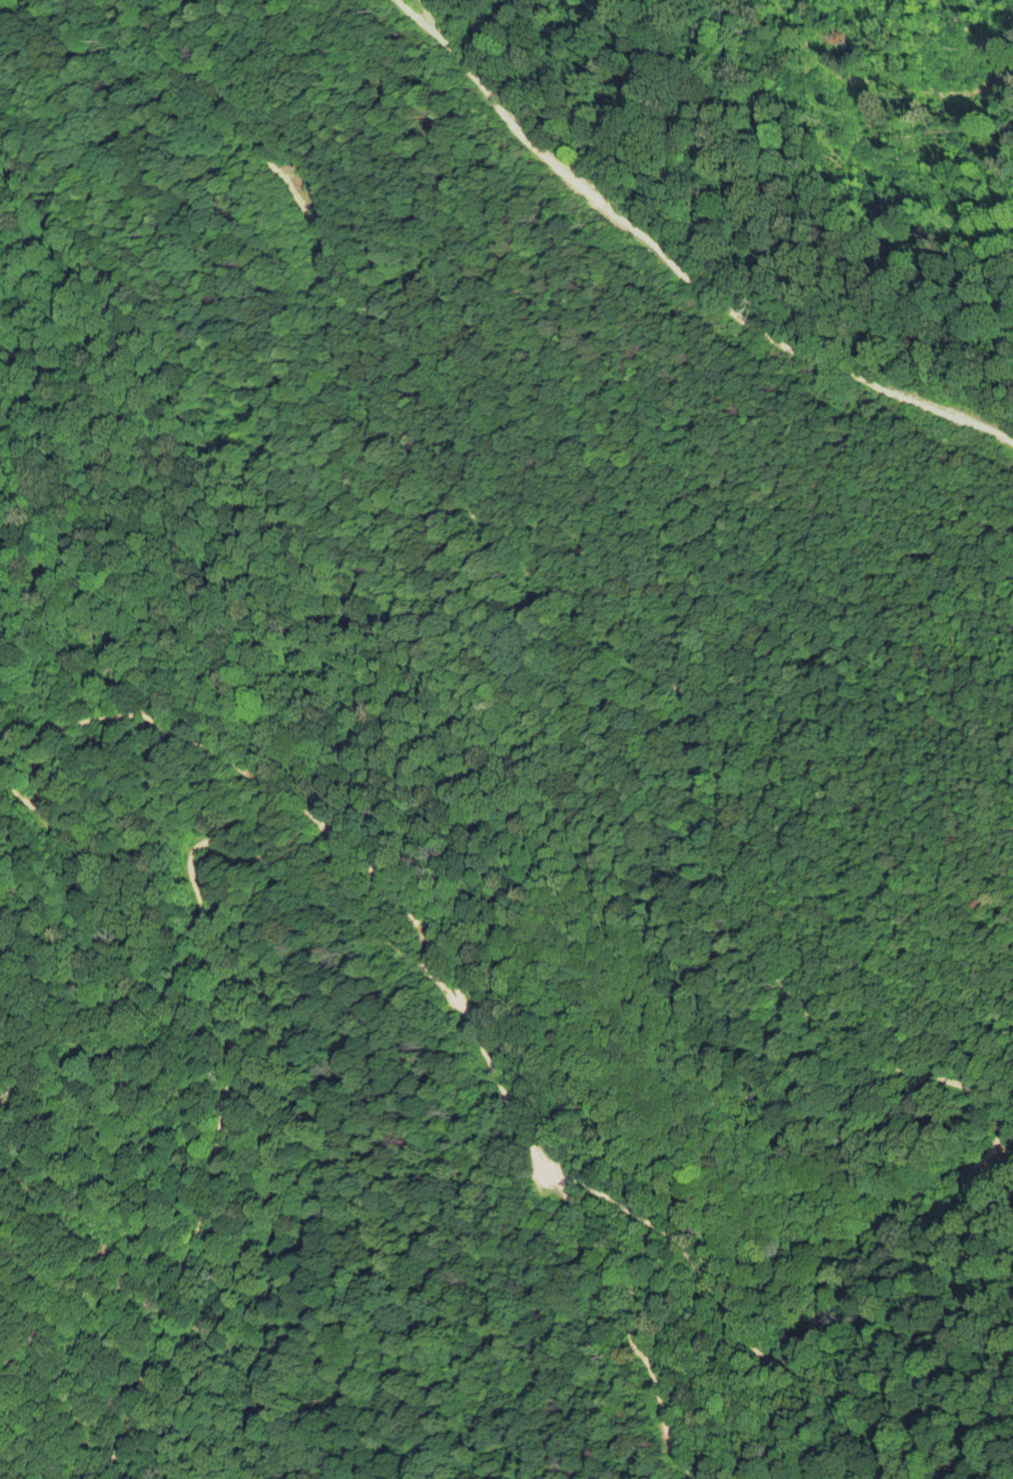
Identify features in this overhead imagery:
road: (749, 220)

